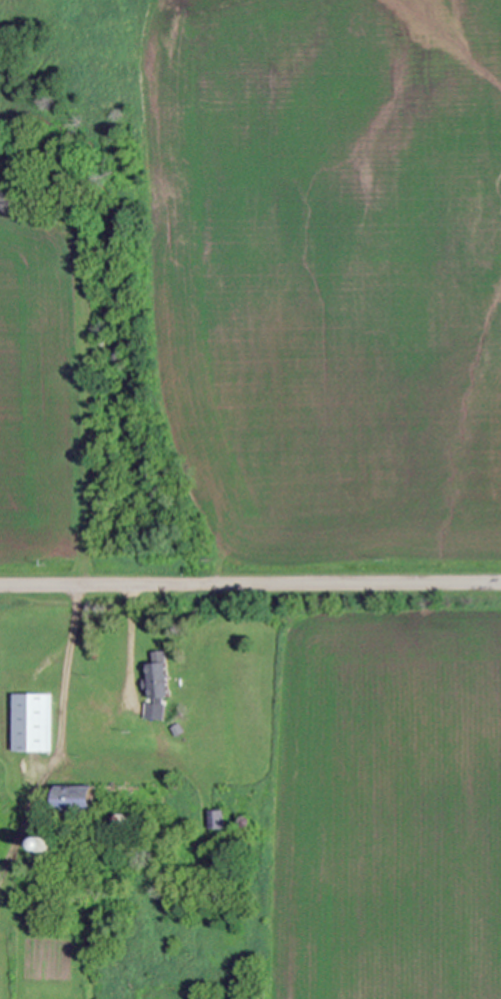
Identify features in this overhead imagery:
road: (250, 585)
road: (133, 643)
road: (61, 671)
building: (156, 685)
building: (31, 722)
building: (177, 729)
building: (209, 742)
building: (74, 797)
building: (215, 819)
building: (124, 821)
building: (244, 822)
building: (47, 844)

